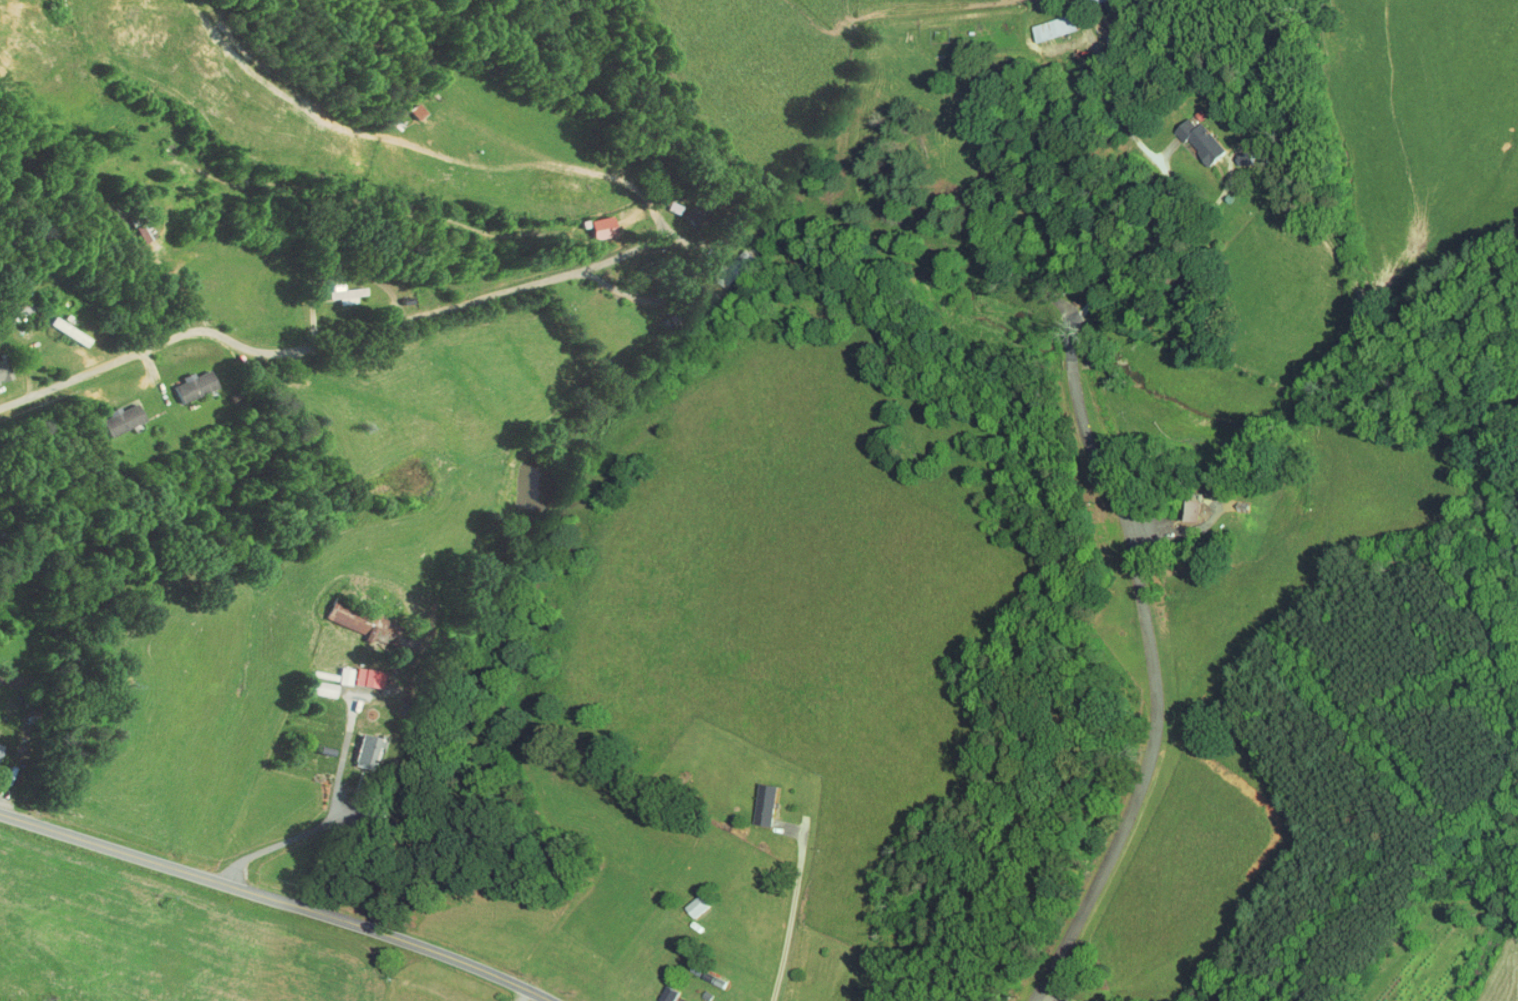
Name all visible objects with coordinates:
building: (1040, 21)
building: (402, 105)
building: (1186, 133)
road: (1164, 170)
road: (1209, 209)
building: (588, 220)
building: (131, 224)
building: (723, 261)
building: (332, 287)
road: (658, 292)
building: (4, 307)
building: (58, 324)
road: (329, 339)
building: (180, 379)
building: (107, 412)
building: (1178, 504)
building: (342, 614)
road: (1143, 653)
building: (332, 669)
building: (352, 745)
building: (750, 798)
road: (328, 821)
building: (683, 899)
road: (275, 900)
road: (790, 916)
building: (654, 989)
building: (676, 999)

